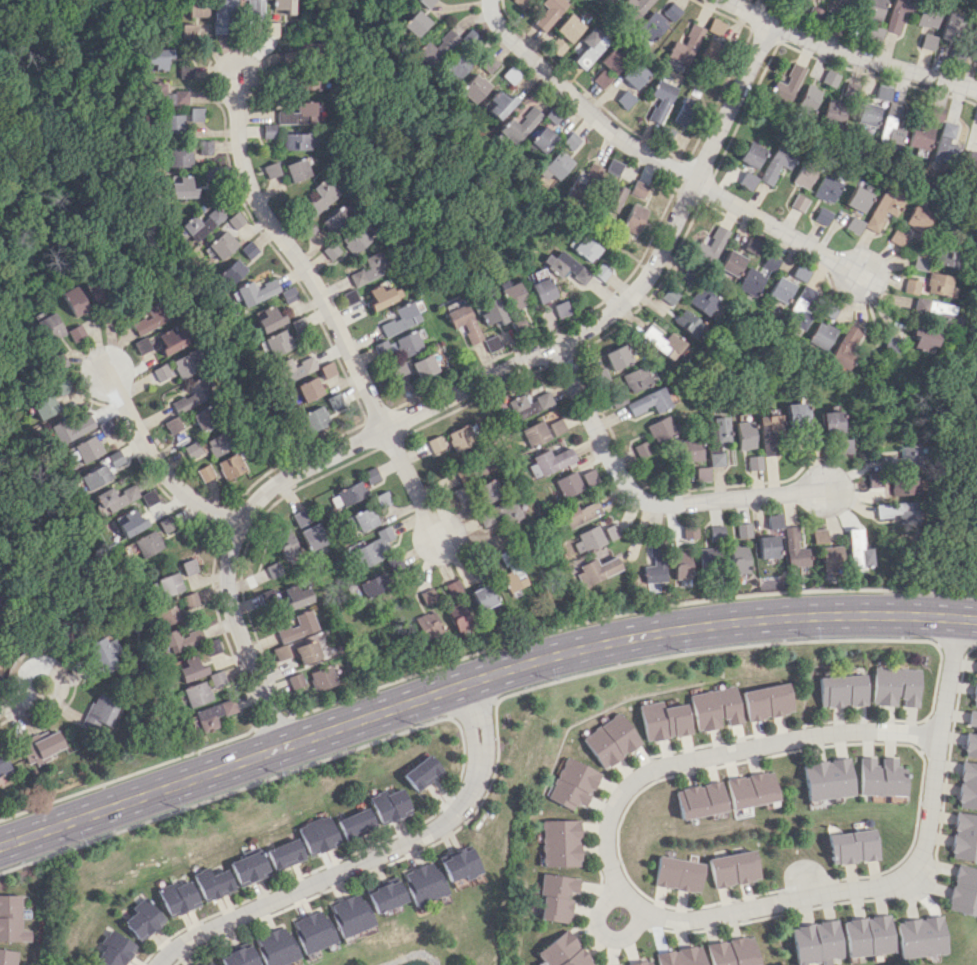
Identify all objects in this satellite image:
building: (423, 2)
building: (843, 2)
building: (519, 3)
building: (281, 5)
building: (251, 7)
building: (633, 7)
building: (192, 8)
road: (780, 8)
building: (868, 8)
building: (671, 11)
building: (546, 12)
street lamp: (772, 12)
building: (812, 13)
building: (893, 14)
building: (219, 16)
building: (924, 16)
building: (413, 23)
building: (651, 25)
building: (948, 26)
building: (568, 27)
building: (717, 28)
road: (763, 34)
building: (925, 41)
building: (685, 44)
building: (436, 46)
building: (555, 46)
building: (589, 47)
building: (710, 50)
road: (806, 54)
road: (846, 54)
building: (153, 57)
street lamp: (258, 59)
building: (614, 59)
building: (487, 63)
road: (732, 66)
building: (455, 67)
building: (180, 70)
building: (635, 74)
building: (601, 78)
building: (829, 78)
building: (309, 82)
building: (787, 85)
building: (474, 88)
road: (585, 89)
building: (881, 92)
building: (163, 95)
building: (808, 98)
building: (625, 99)
building: (661, 99)
building: (497, 103)
building: (839, 106)
building: (685, 110)
building: (932, 112)
building: (191, 114)
building: (866, 116)
building: (169, 123)
building: (890, 124)
building: (519, 125)
building: (267, 130)
building: (544, 133)
building: (919, 138)
building: (944, 142)
building: (185, 152)
building: (752, 154)
building: (968, 158)
road: (656, 159)
building: (775, 164)
building: (557, 165)
building: (614, 166)
building: (269, 169)
building: (296, 169)
road: (681, 173)
building: (592, 175)
building: (802, 177)
building: (748, 180)
building: (179, 187)
building: (639, 188)
road: (707, 188)
building: (827, 188)
building: (320, 197)
building: (857, 198)
building: (614, 199)
street lamp: (672, 200)
road: (701, 202)
building: (798, 202)
building: (883, 208)
building: (822, 215)
building: (635, 218)
building: (917, 218)
building: (233, 220)
building: (198, 223)
building: (853, 224)
building: (896, 236)
building: (355, 239)
building: (712, 243)
road: (269, 244)
building: (218, 245)
building: (751, 245)
street lamp: (276, 248)
building: (588, 248)
building: (247, 249)
building: (946, 257)
building: (732, 262)
building: (918, 262)
building: (571, 267)
building: (369, 269)
building: (229, 271)
building: (688, 277)
building: (751, 281)
building: (937, 284)
building: (542, 285)
building: (909, 285)
building: (780, 289)
building: (255, 291)
building: (384, 294)
building: (516, 296)
building: (70, 300)
building: (703, 300)
street lamp: (865, 302)
building: (802, 305)
road: (328, 306)
building: (562, 308)
building: (493, 311)
building: (938, 311)
building: (267, 317)
building: (146, 318)
building: (402, 319)
building: (465, 321)
building: (688, 322)
road: (874, 323)
road: (620, 324)
road: (561, 326)
building: (46, 327)
building: (71, 333)
building: (822, 334)
building: (922, 338)
building: (159, 340)
street lamp: (100, 342)
building: (278, 342)
building: (411, 342)
building: (664, 342)
building: (493, 343)
building: (847, 345)
road: (561, 357)
building: (618, 357)
building: (183, 364)
building: (298, 366)
building: (425, 366)
street lamp: (535, 366)
building: (158, 372)
building: (637, 378)
building: (309, 389)
road: (463, 389)
building: (187, 396)
road: (477, 399)
building: (650, 401)
building: (336, 402)
building: (530, 404)
building: (42, 406)
street lamp: (401, 408)
road: (380, 414)
building: (800, 414)
building: (202, 418)
building: (317, 418)
building: (832, 422)
building: (171, 424)
building: (558, 426)
building: (70, 427)
building: (661, 428)
building: (770, 432)
building: (535, 434)
building: (745, 434)
building: (462, 438)
building: (717, 438)
building: (811, 438)
road: (392, 440)
road: (834, 440)
building: (216, 444)
building: (437, 444)
road: (798, 444)
building: (844, 445)
building: (85, 448)
building: (642, 448)
building: (191, 449)
building: (690, 449)
road: (779, 449)
road: (827, 450)
road: (882, 451)
road: (813, 454)
road: (294, 457)
building: (112, 458)
building: (899, 458)
building: (551, 461)
road: (154, 462)
building: (754, 462)
road: (806, 463)
building: (230, 465)
road: (745, 465)
road: (861, 467)
road: (771, 469)
building: (204, 472)
building: (702, 474)
building: (93, 476)
building: (372, 476)
road: (819, 476)
road: (825, 476)
building: (587, 478)
road: (756, 478)
building: (872, 479)
road: (835, 482)
building: (567, 484)
building: (902, 486)
building: (491, 489)
road: (773, 489)
road: (757, 491)
road: (837, 491)
road: (881, 491)
building: (348, 494)
building: (462, 494)
road: (836, 495)
road: (865, 496)
building: (115, 497)
road: (787, 497)
building: (146, 498)
road: (644, 499)
road: (754, 500)
road: (833, 500)
road: (740, 501)
road: (827, 502)
road: (713, 504)
road: (861, 508)
building: (896, 511)
building: (579, 513)
building: (498, 514)
road: (741, 514)
road: (789, 514)
street lamp: (809, 514)
road: (714, 516)
road: (756, 516)
road: (849, 517)
road: (226, 519)
building: (362, 519)
road: (879, 520)
building: (774, 521)
building: (128, 522)
building: (165, 523)
road: (833, 527)
building: (309, 528)
road: (732, 528)
building: (743, 529)
road: (766, 529)
road: (862, 529)
building: (612, 530)
road: (704, 530)
building: (689, 531)
building: (819, 532)
road: (220, 533)
building: (716, 533)
building: (591, 538)
street lamp: (221, 539)
road: (828, 539)
building: (363, 540)
building: (146, 543)
building: (286, 545)
building: (794, 545)
building: (768, 547)
building: (857, 548)
building: (371, 549)
road: (244, 550)
building: (830, 557)
building: (708, 559)
building: (739, 559)
building: (394, 562)
building: (656, 562)
street lamp: (449, 563)
building: (682, 563)
building: (188, 566)
building: (273, 569)
building: (596, 569)
building: (510, 570)
building: (168, 584)
building: (373, 584)
building: (288, 595)
building: (481, 596)
building: (0, 598)
building: (175, 608)
road: (625, 613)
building: (458, 617)
building: (426, 624)
building: (298, 626)
street lamp: (921, 636)
street lamp: (811, 637)
building: (181, 638)
road: (852, 639)
road: (952, 642)
street lamp: (682, 651)
building: (280, 652)
building: (307, 652)
building: (104, 655)
building: (191, 668)
building: (976, 670)
building: (322, 677)
building: (216, 678)
road: (477, 678)
street lamp: (551, 678)
building: (297, 682)
road: (60, 684)
building: (895, 685)
building: (842, 690)
building: (197, 693)
building: (974, 695)
road: (13, 699)
building: (768, 701)
road: (469, 705)
street lamp: (279, 706)
building: (717, 707)
building: (213, 714)
building: (666, 720)
road: (273, 723)
street lamp: (414, 724)
street lamp: (821, 725)
road: (923, 735)
building: (971, 736)
building: (613, 740)
road: (902, 743)
building: (41, 745)
street lamp: (702, 747)
street lamp: (919, 747)
road: (948, 748)
road: (716, 754)
building: (3, 763)
building: (421, 772)
building: (880, 777)
building: (827, 779)
building: (574, 783)
building: (967, 786)
building: (751, 789)
building: (701, 800)
building: (389, 805)
street lamp: (601, 820)
building: (356, 823)
building: (319, 834)
building: (963, 837)
building: (561, 842)
building: (851, 846)
building: (286, 854)
road: (368, 859)
building: (457, 864)
building: (250, 868)
building: (735, 868)
building: (681, 873)
road: (895, 876)
road: (630, 878)
building: (422, 882)
road: (913, 882)
building: (214, 883)
road: (809, 883)
road: (918, 889)
street lamp: (784, 890)
building: (961, 890)
street lamp: (926, 894)
building: (384, 895)
building: (179, 897)
building: (557, 897)
road: (626, 903)
road: (601, 910)
street lamp: (624, 910)
building: (350, 915)
road: (767, 916)
building: (11, 919)
building: (145, 919)
street lamp: (699, 928)
building: (312, 931)
road: (630, 931)
building: (864, 935)
building: (917, 936)
building: (813, 942)
building: (558, 948)
building: (117, 949)
building: (732, 952)
building: (689, 955)
building: (7, 957)
building: (238, 957)
building: (666, 957)
building: (576, 959)
building: (206, 963)
building: (640, 963)
building: (619, 964)

